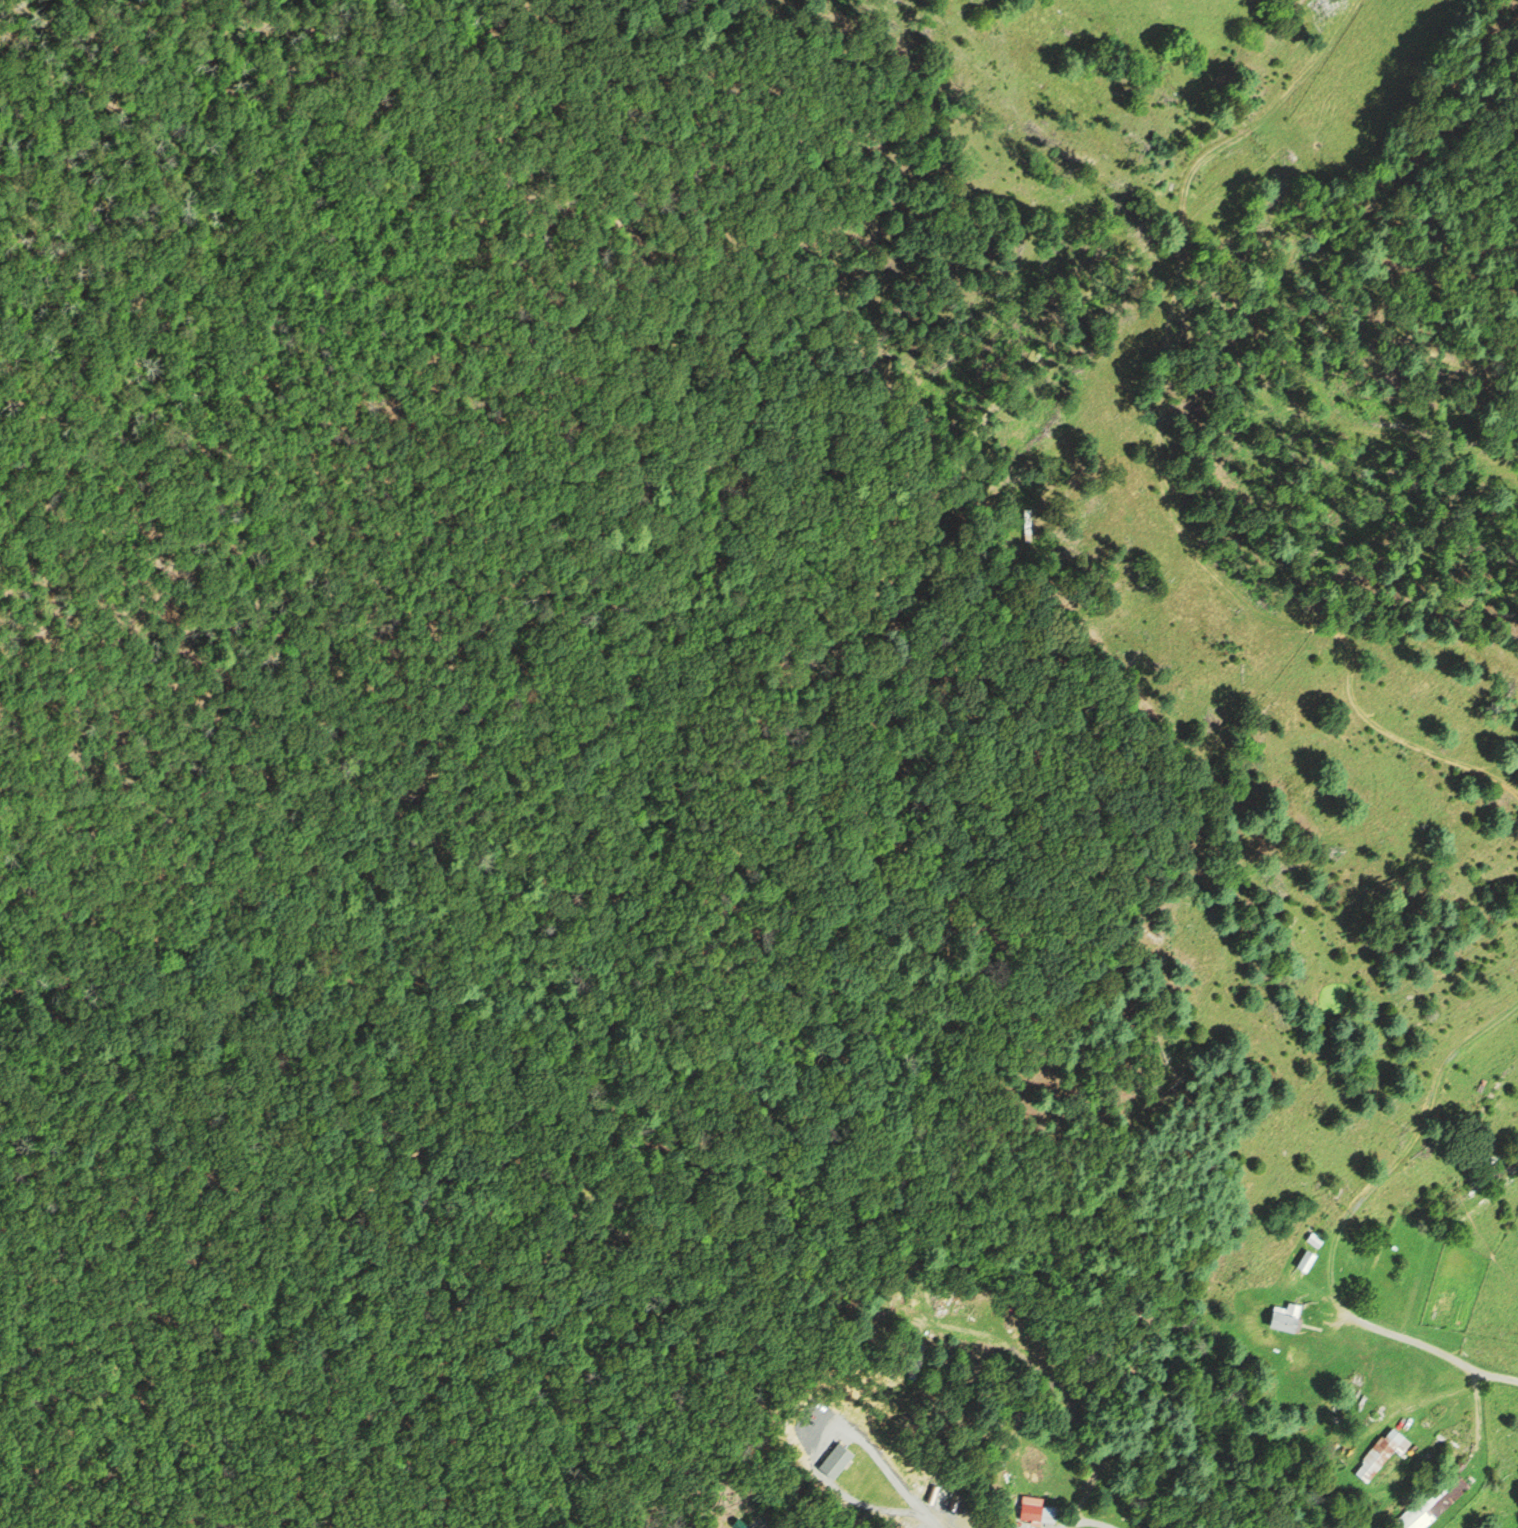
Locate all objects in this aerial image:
building: (1331, 5)
road: (1158, 460)
road: (1404, 1151)
building: (1503, 1168)
building: (1320, 1241)
building: (1310, 1260)
building: (1289, 1318)
road: (1429, 1350)
building: (1387, 1453)
building: (1432, 1504)
building: (1033, 1509)
road: (1089, 1522)

